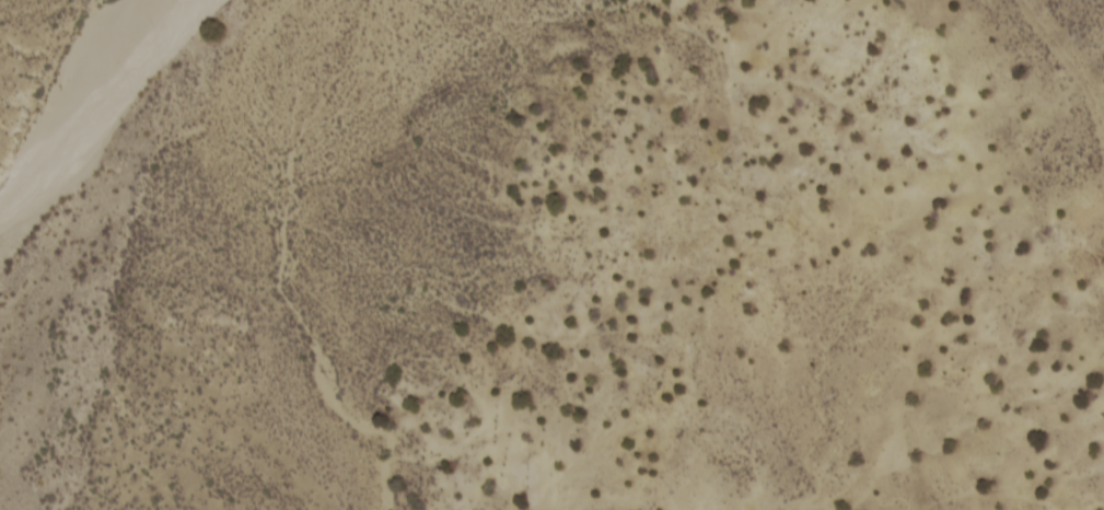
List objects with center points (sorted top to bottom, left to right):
river: (62, 169)
road: (702, 255)

